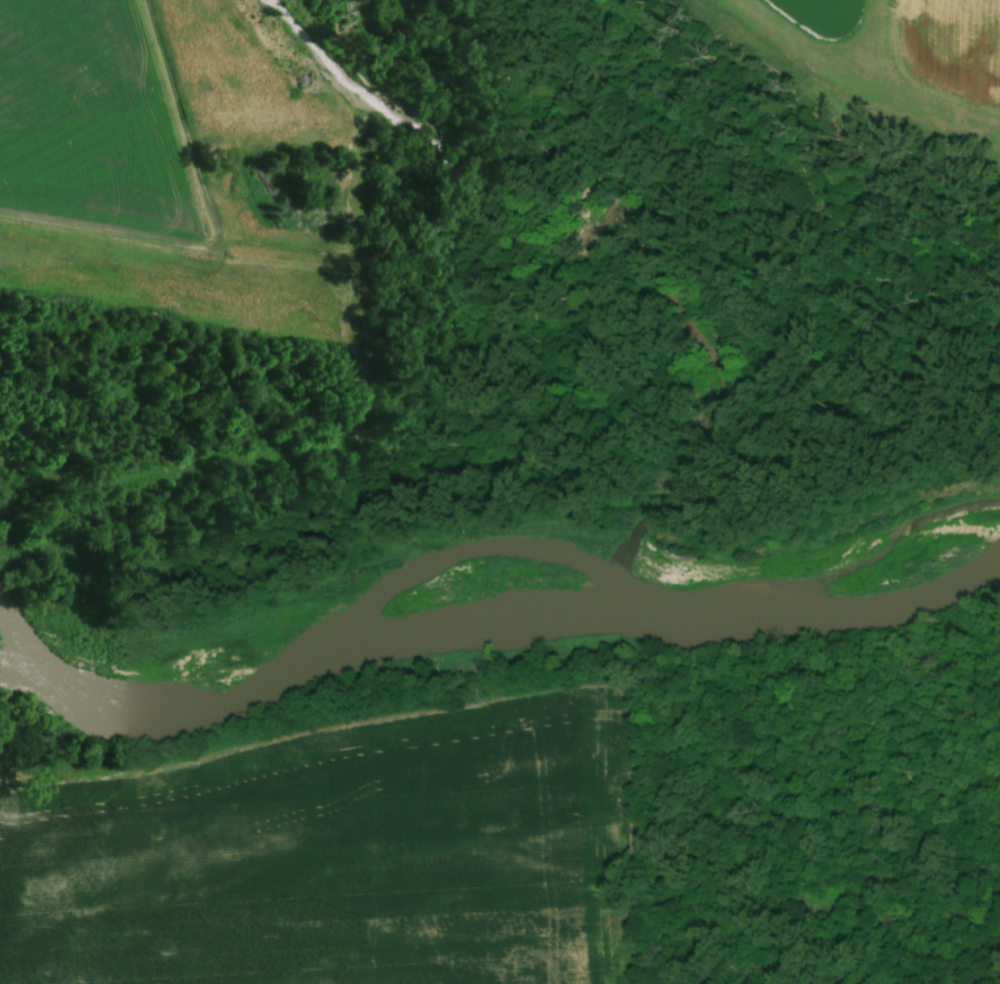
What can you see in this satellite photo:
river: (487, 619)

